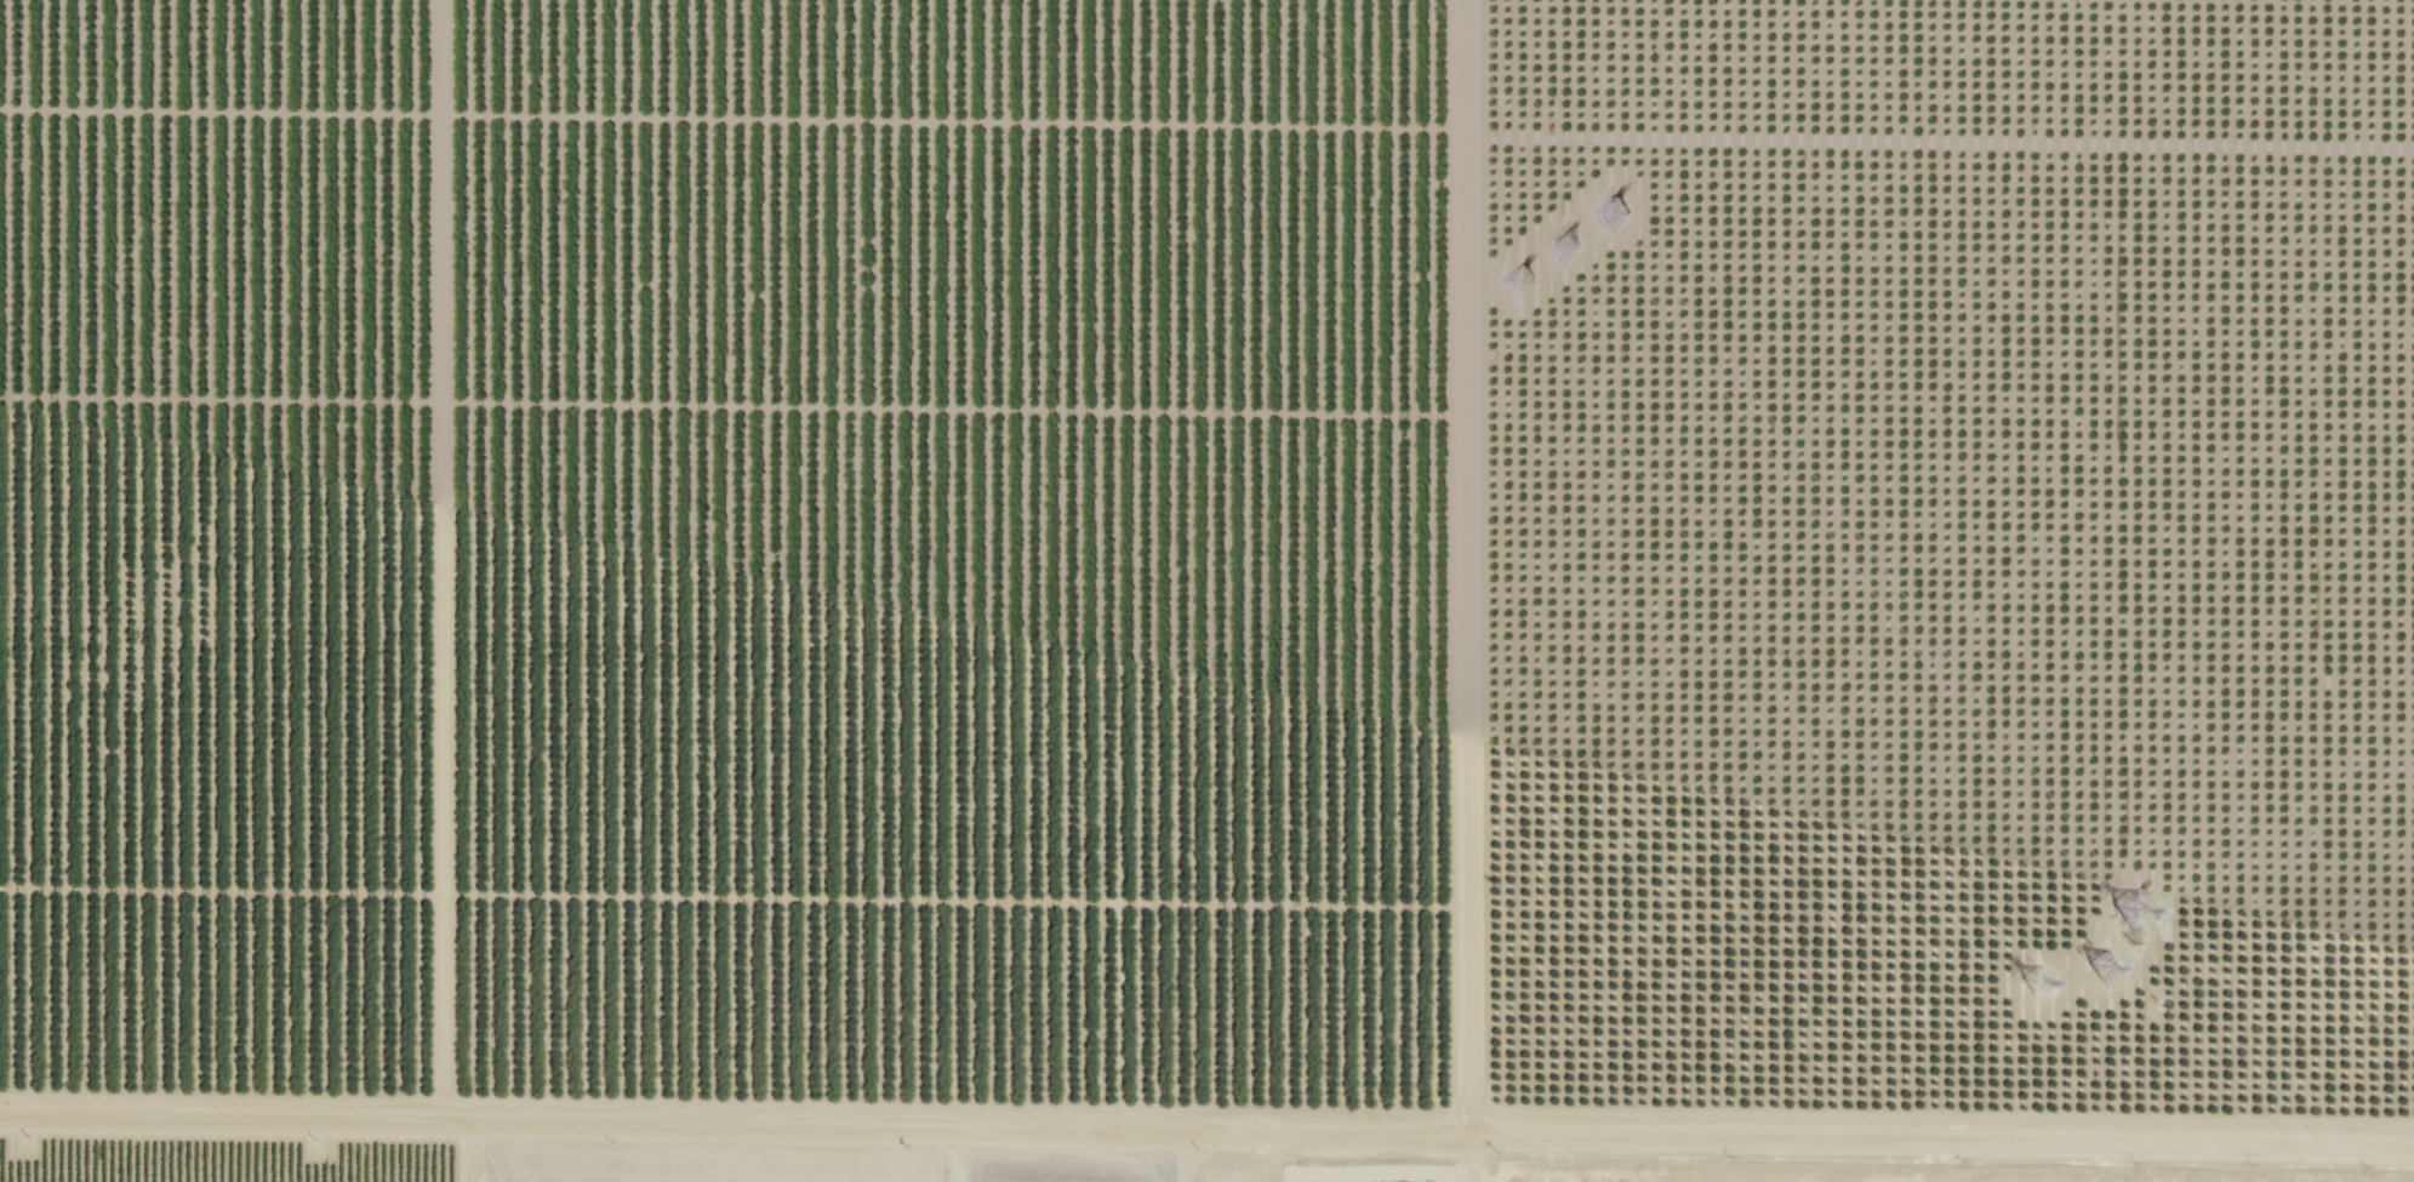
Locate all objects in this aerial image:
power tower: (1623, 215)
power tower: (1575, 244)
power tower: (1535, 295)
road: (1472, 590)
power tower: (2136, 917)
power tower: (2104, 963)
power tower: (2045, 988)
road: (1206, 1130)
crop: (978, 1146)

